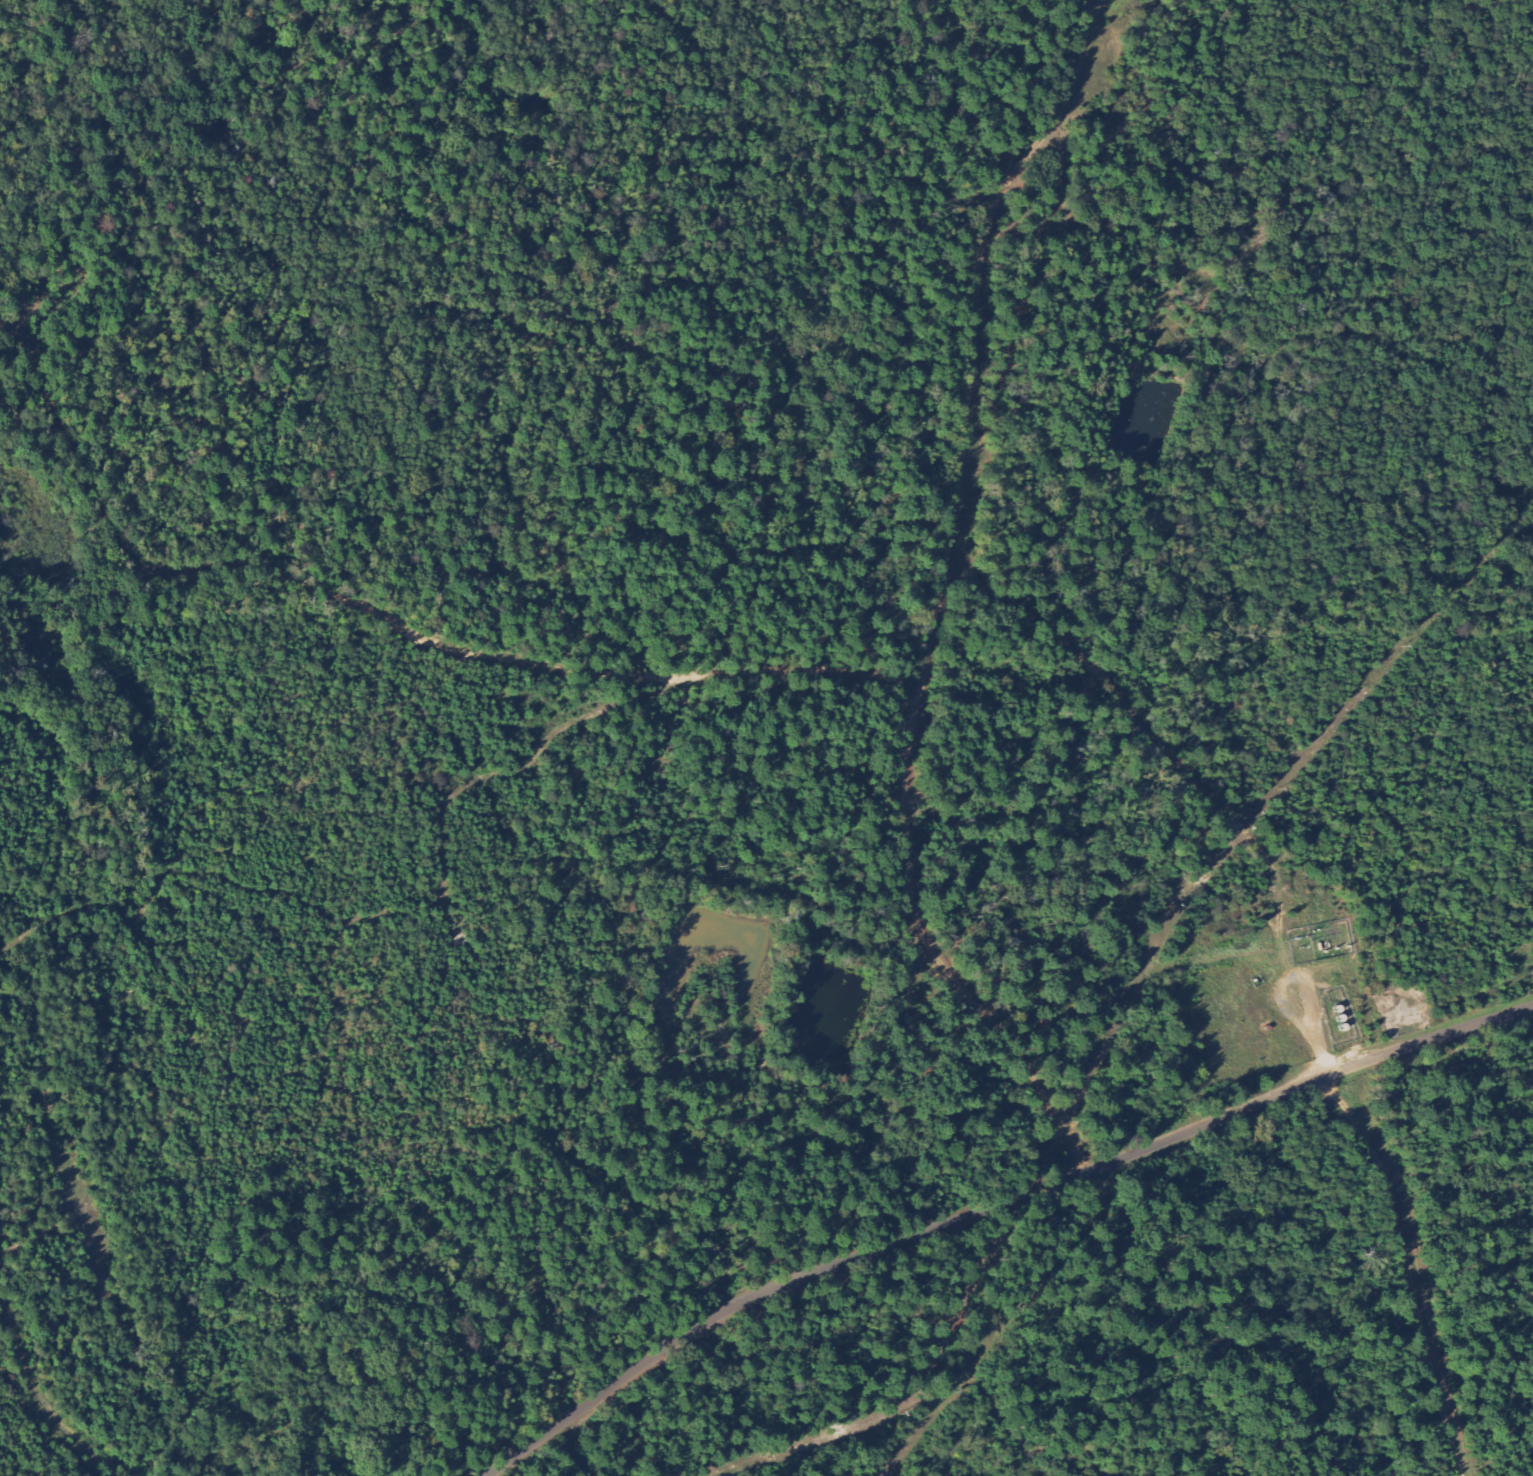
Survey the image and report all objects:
road: (991, 1206)

